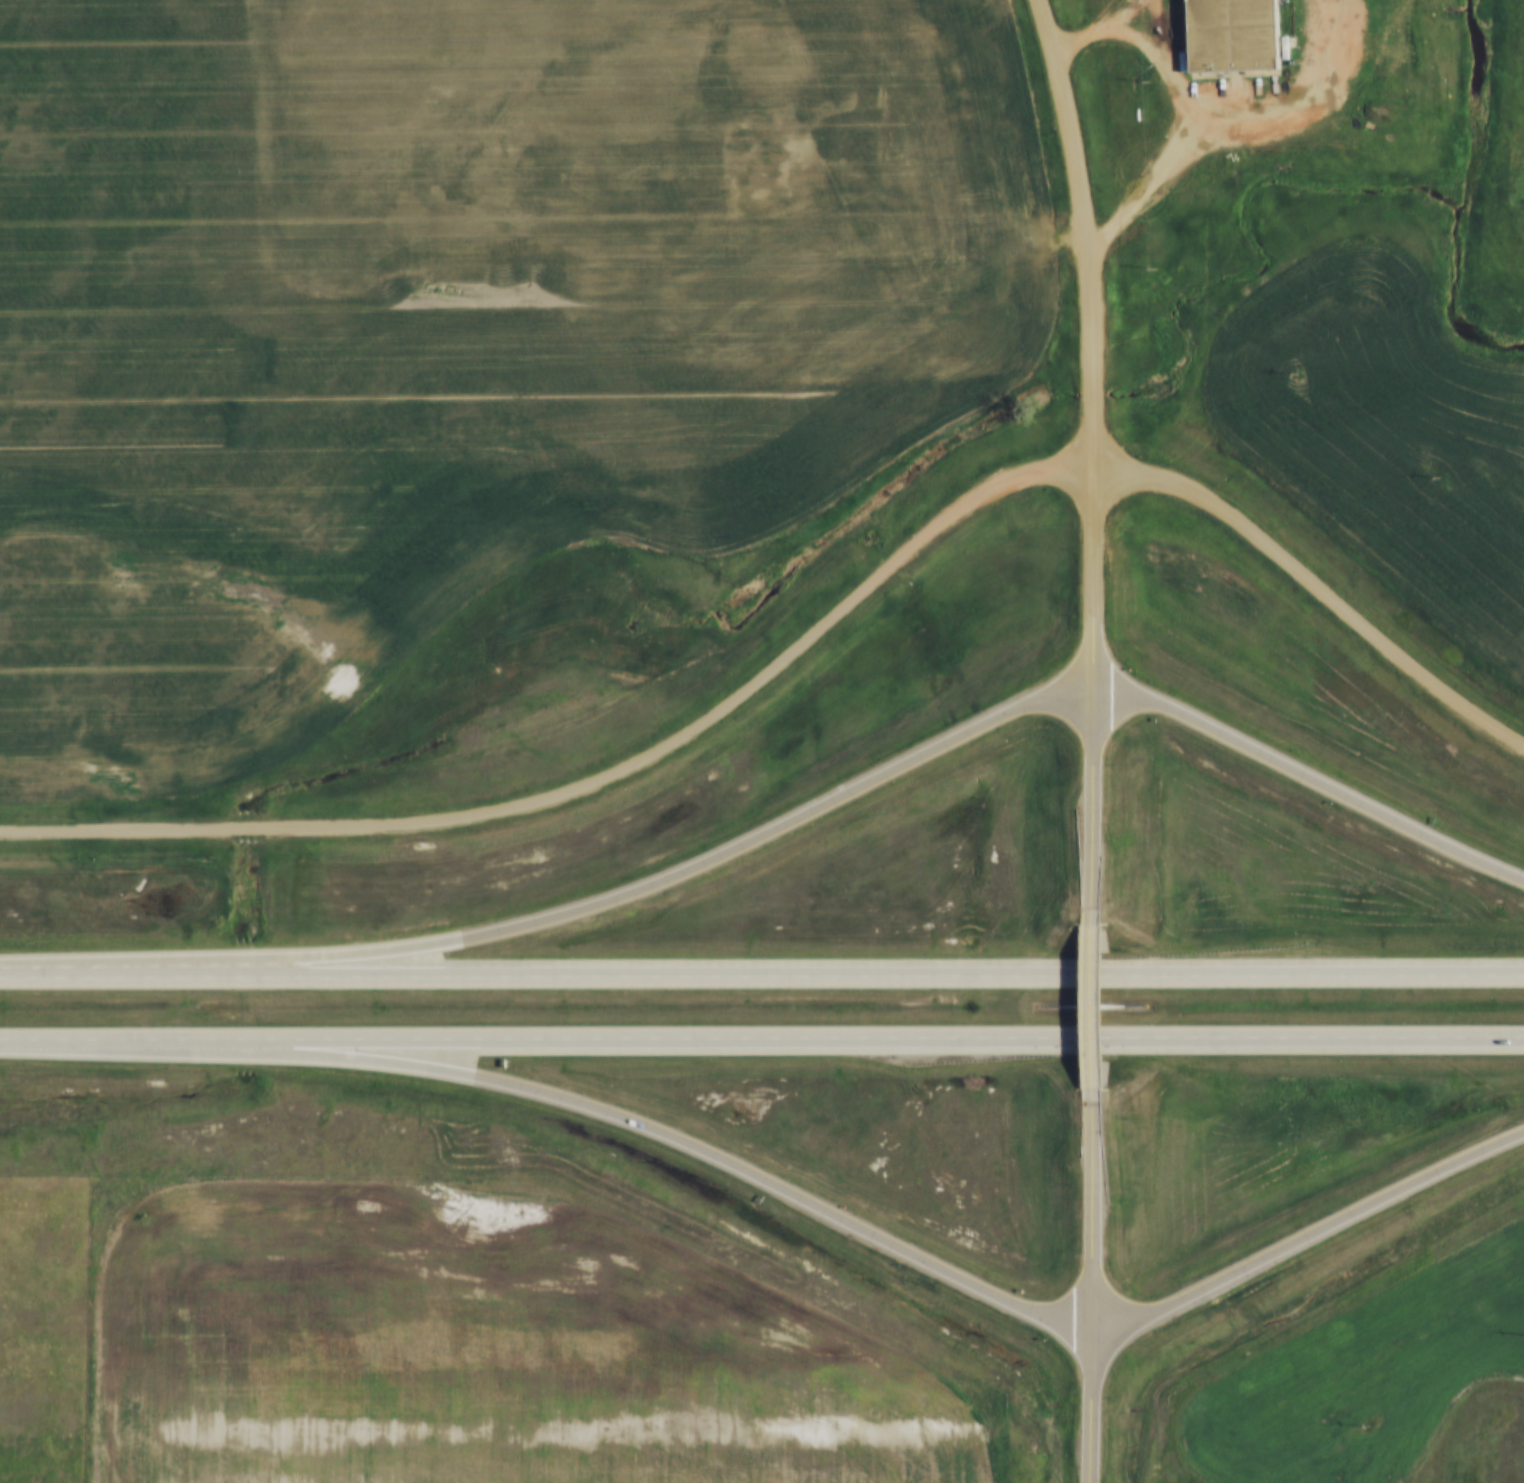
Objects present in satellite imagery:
road: (1103, 27)
building: (1232, 38)
road: (1233, 128)
road: (1092, 333)
road: (810, 635)
road: (936, 744)
road: (1098, 800)
road: (761, 967)
road: (1099, 1007)
road: (762, 1036)
road: (727, 1159)
road: (1309, 1234)
road: (1094, 1283)

